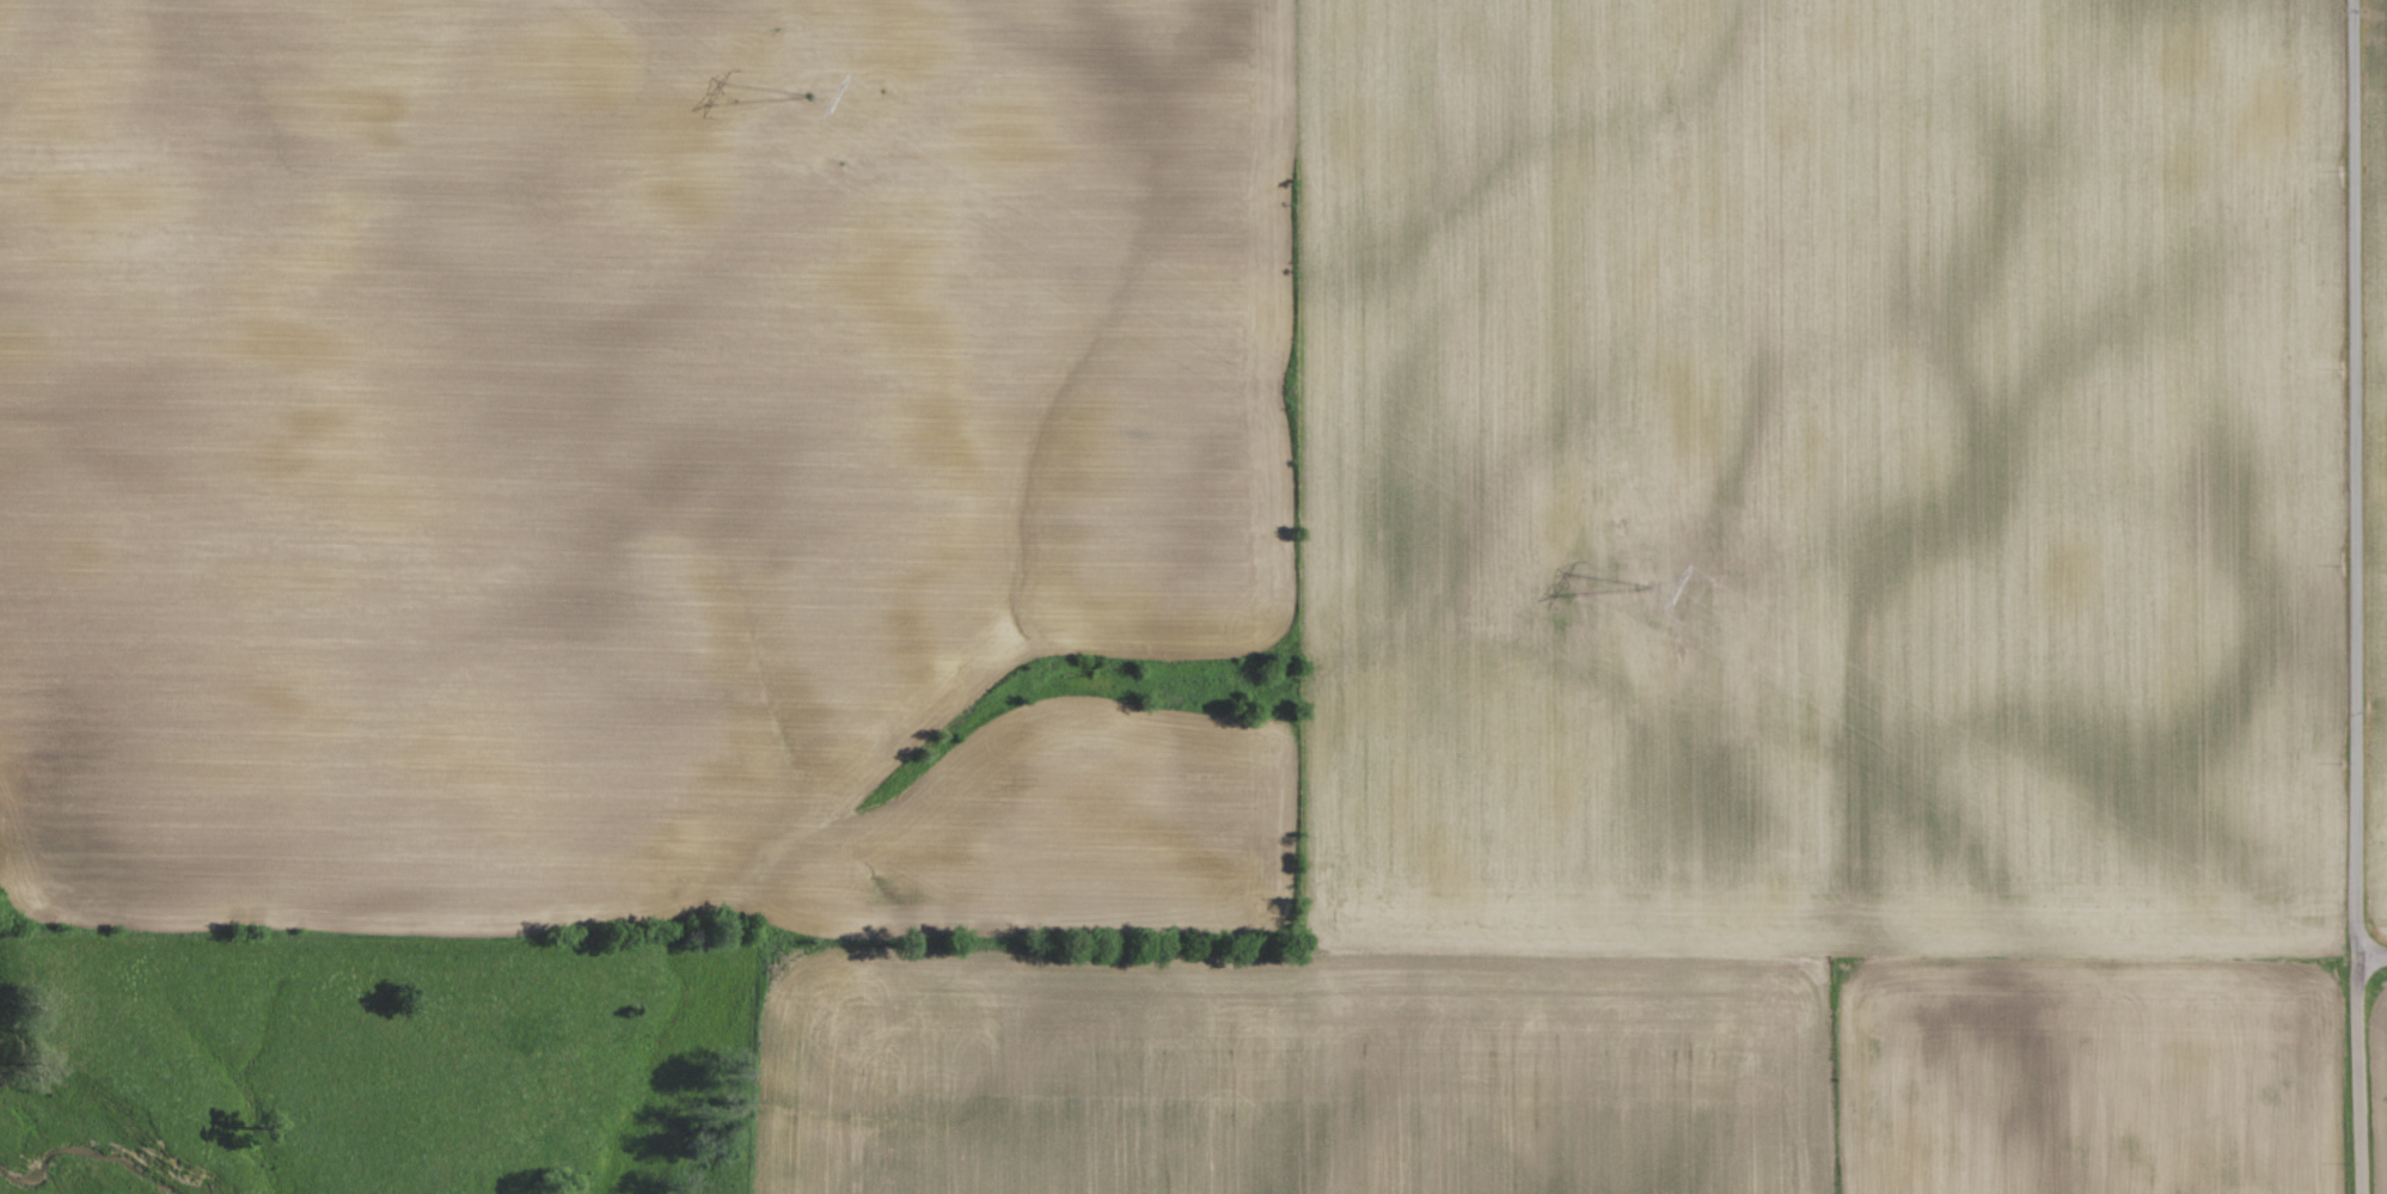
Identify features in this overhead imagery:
power tower: (809, 90)
power tower: (1648, 578)
road: (2355, 596)
road: (2371, 959)

